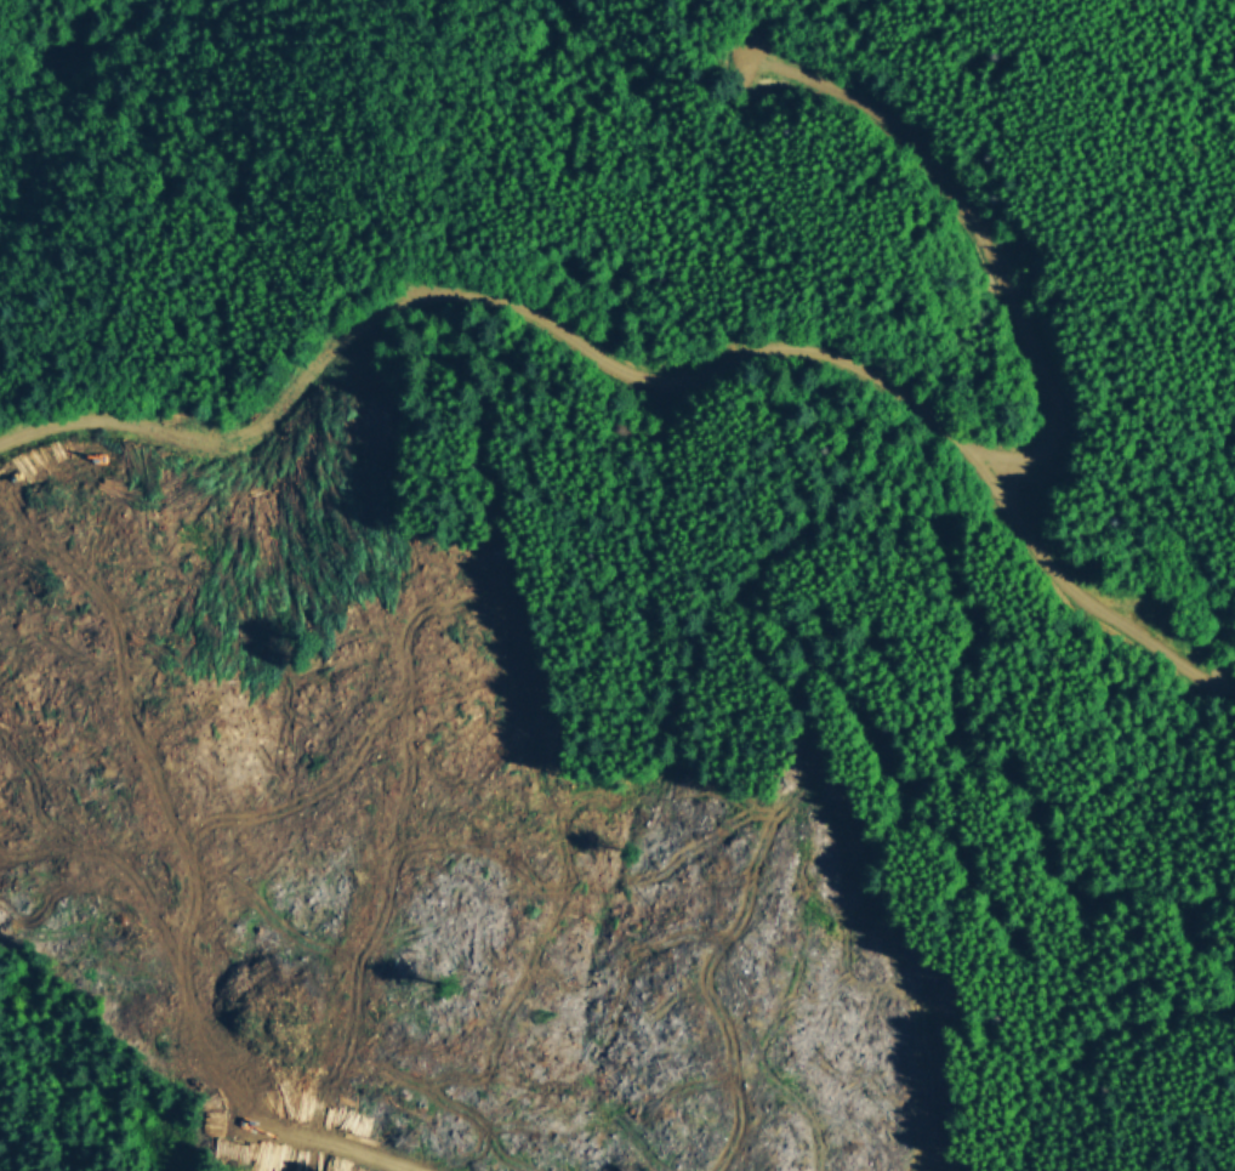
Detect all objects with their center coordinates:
road: (989, 237)
road: (639, 374)

